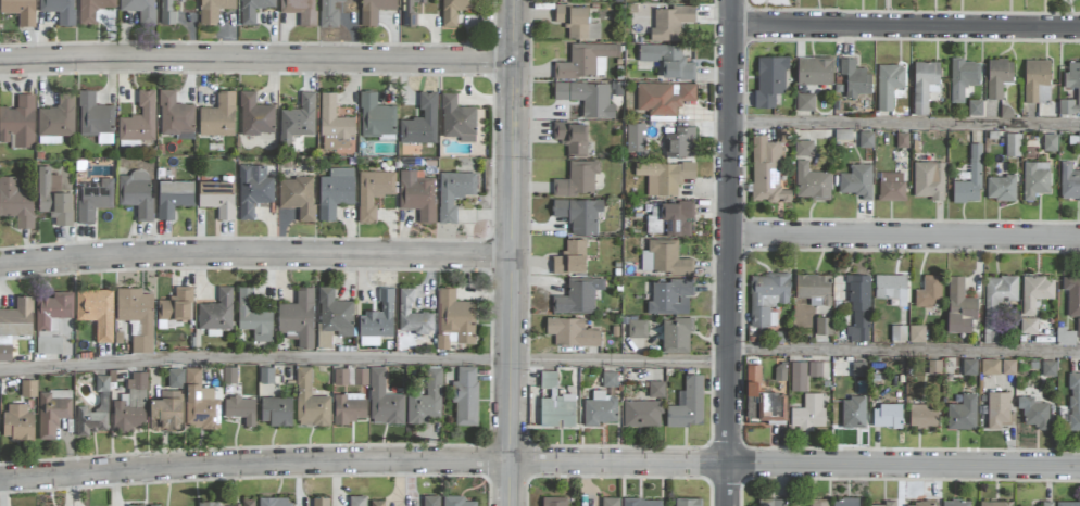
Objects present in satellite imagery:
building: (60, 10)
building: (92, 10)
building: (140, 10)
building: (213, 10)
building: (252, 10)
building: (300, 10)
building: (374, 10)
building: (454, 10)
building: (20, 11)
building: (167, 12)
building: (410, 12)
building: (328, 13)
building: (576, 22)
building: (670, 22)
road: (907, 26)
road: (258, 60)
building: (586, 61)
building: (668, 61)
building: (814, 71)
building: (1072, 75)
building: (963, 77)
building: (999, 77)
building: (855, 78)
building: (769, 79)
building: (1037, 81)
building: (889, 85)
building: (925, 85)
building: (587, 98)
building: (663, 98)
building: (805, 102)
building: (975, 107)
building: (175, 115)
building: (95, 116)
building: (218, 116)
building: (255, 116)
building: (376, 117)
building: (298, 118)
building: (139, 119)
building: (457, 119)
building: (55, 121)
building: (18, 123)
building: (420, 123)
building: (334, 125)
road: (906, 126)
building: (572, 137)
building: (636, 137)
building: (866, 139)
building: (902, 140)
building: (1079, 140)
building: (680, 142)
building: (1050, 142)
building: (1013, 144)
building: (803, 149)
building: (766, 172)
building: (664, 177)
building: (577, 179)
building: (969, 179)
building: (1035, 179)
building: (928, 180)
building: (856, 181)
building: (1069, 181)
building: (811, 182)
building: (891, 187)
building: (1001, 188)
building: (253, 190)
building: (335, 192)
building: (373, 192)
building: (453, 192)
building: (136, 193)
building: (417, 194)
building: (297, 195)
building: (53, 198)
building: (173, 198)
building: (217, 198)
building: (93, 200)
building: (15, 202)
building: (578, 215)
building: (669, 218)
road: (906, 237)
road: (513, 252)
road: (731, 252)
road: (255, 254)
building: (570, 257)
building: (664, 258)
building: (891, 288)
building: (814, 289)
building: (929, 292)
building: (1034, 292)
building: (1072, 293)
building: (578, 296)
building: (669, 296)
building: (767, 298)
building: (997, 298)
building: (174, 307)
building: (959, 307)
building: (858, 308)
building: (97, 311)
building: (216, 312)
building: (412, 315)
building: (137, 317)
building: (253, 317)
building: (298, 317)
building: (332, 317)
building: (454, 319)
building: (51, 320)
building: (377, 320)
building: (14, 325)
building: (824, 326)
building: (1028, 326)
building: (1078, 328)
building: (637, 329)
building: (572, 332)
building: (897, 333)
building: (916, 333)
building: (676, 336)
building: (1065, 336)
road: (905, 352)
road: (365, 359)
building: (933, 367)
building: (969, 367)
building: (990, 367)
building: (1007, 367)
building: (1048, 368)
building: (814, 369)
building: (858, 369)
building: (266, 375)
building: (340, 377)
building: (360, 377)
building: (798, 377)
building: (175, 378)
building: (548, 379)
building: (610, 379)
building: (752, 380)
building: (28, 389)
building: (656, 390)
building: (465, 396)
building: (426, 400)
building: (384, 401)
building: (1073, 401)
building: (310, 402)
building: (201, 403)
building: (687, 404)
building: (130, 405)
building: (771, 406)
building: (349, 407)
building: (240, 408)
building: (599, 409)
building: (276, 410)
building: (557, 410)
building: (999, 410)
building: (52, 412)
building: (93, 412)
building: (166, 412)
building: (853, 412)
building: (808, 413)
building: (963, 413)
building: (1033, 413)
building: (642, 414)
building: (887, 416)
building: (922, 416)
building: (17, 422)
road: (539, 466)
building: (356, 501)
building: (430, 501)
building: (456, 501)
building: (275, 502)
building: (319, 502)
building: (554, 502)
building: (608, 502)
building: (641, 502)
building: (687, 502)
building: (771, 502)
building: (845, 502)
building: (208, 503)
building: (246, 503)
building: (376, 503)
building: (819, 503)
building: (956, 503)
building: (1046, 503)
building: (1068, 503)
building: (886, 504)
building: (921, 504)
building: (995, 504)
building: (136, 505)
building: (154, 505)

